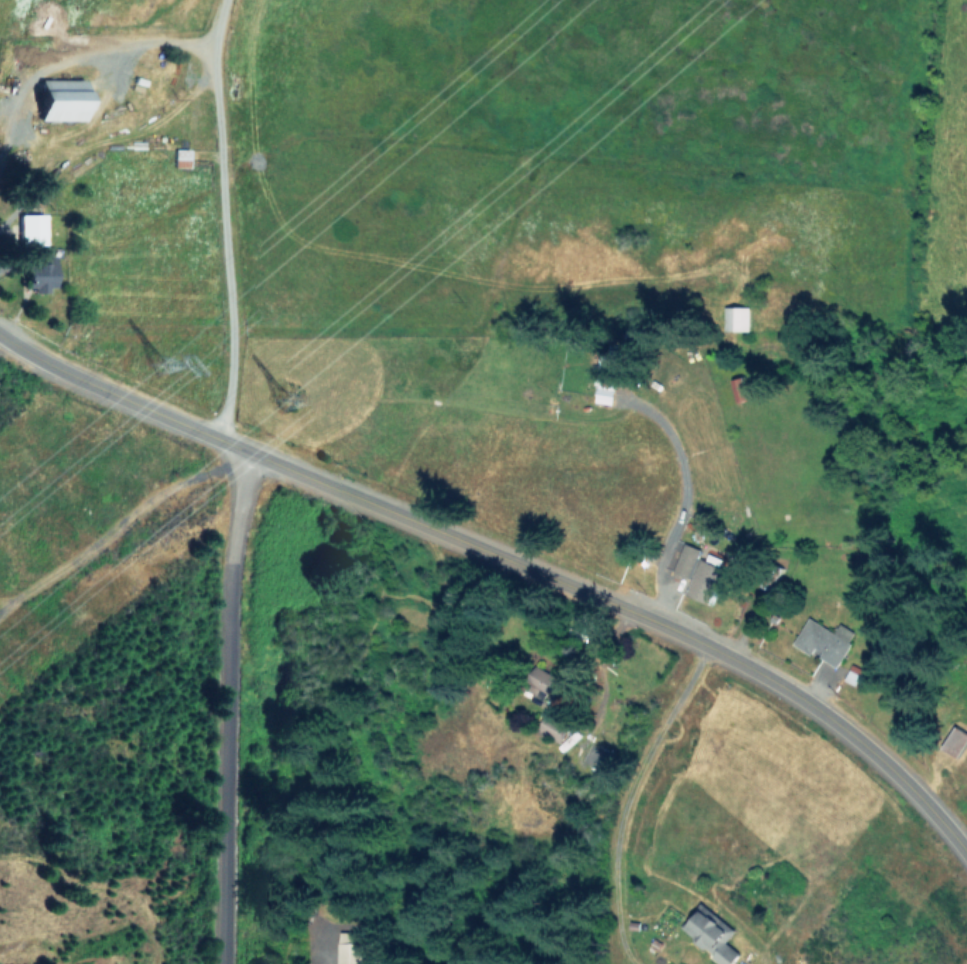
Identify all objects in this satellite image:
road: (221, 12)
road: (81, 53)
building: (66, 99)
building: (182, 157)
crop: (476, 184)
building: (33, 228)
road: (226, 233)
building: (44, 274)
building: (739, 317)
power tower: (171, 356)
building: (605, 376)
building: (740, 389)
power tower: (292, 396)
road: (117, 532)
building: (686, 559)
road: (506, 560)
building: (707, 582)
building: (825, 640)
road: (234, 709)
building: (553, 727)
road: (614, 797)
building: (711, 934)
building: (350, 947)

